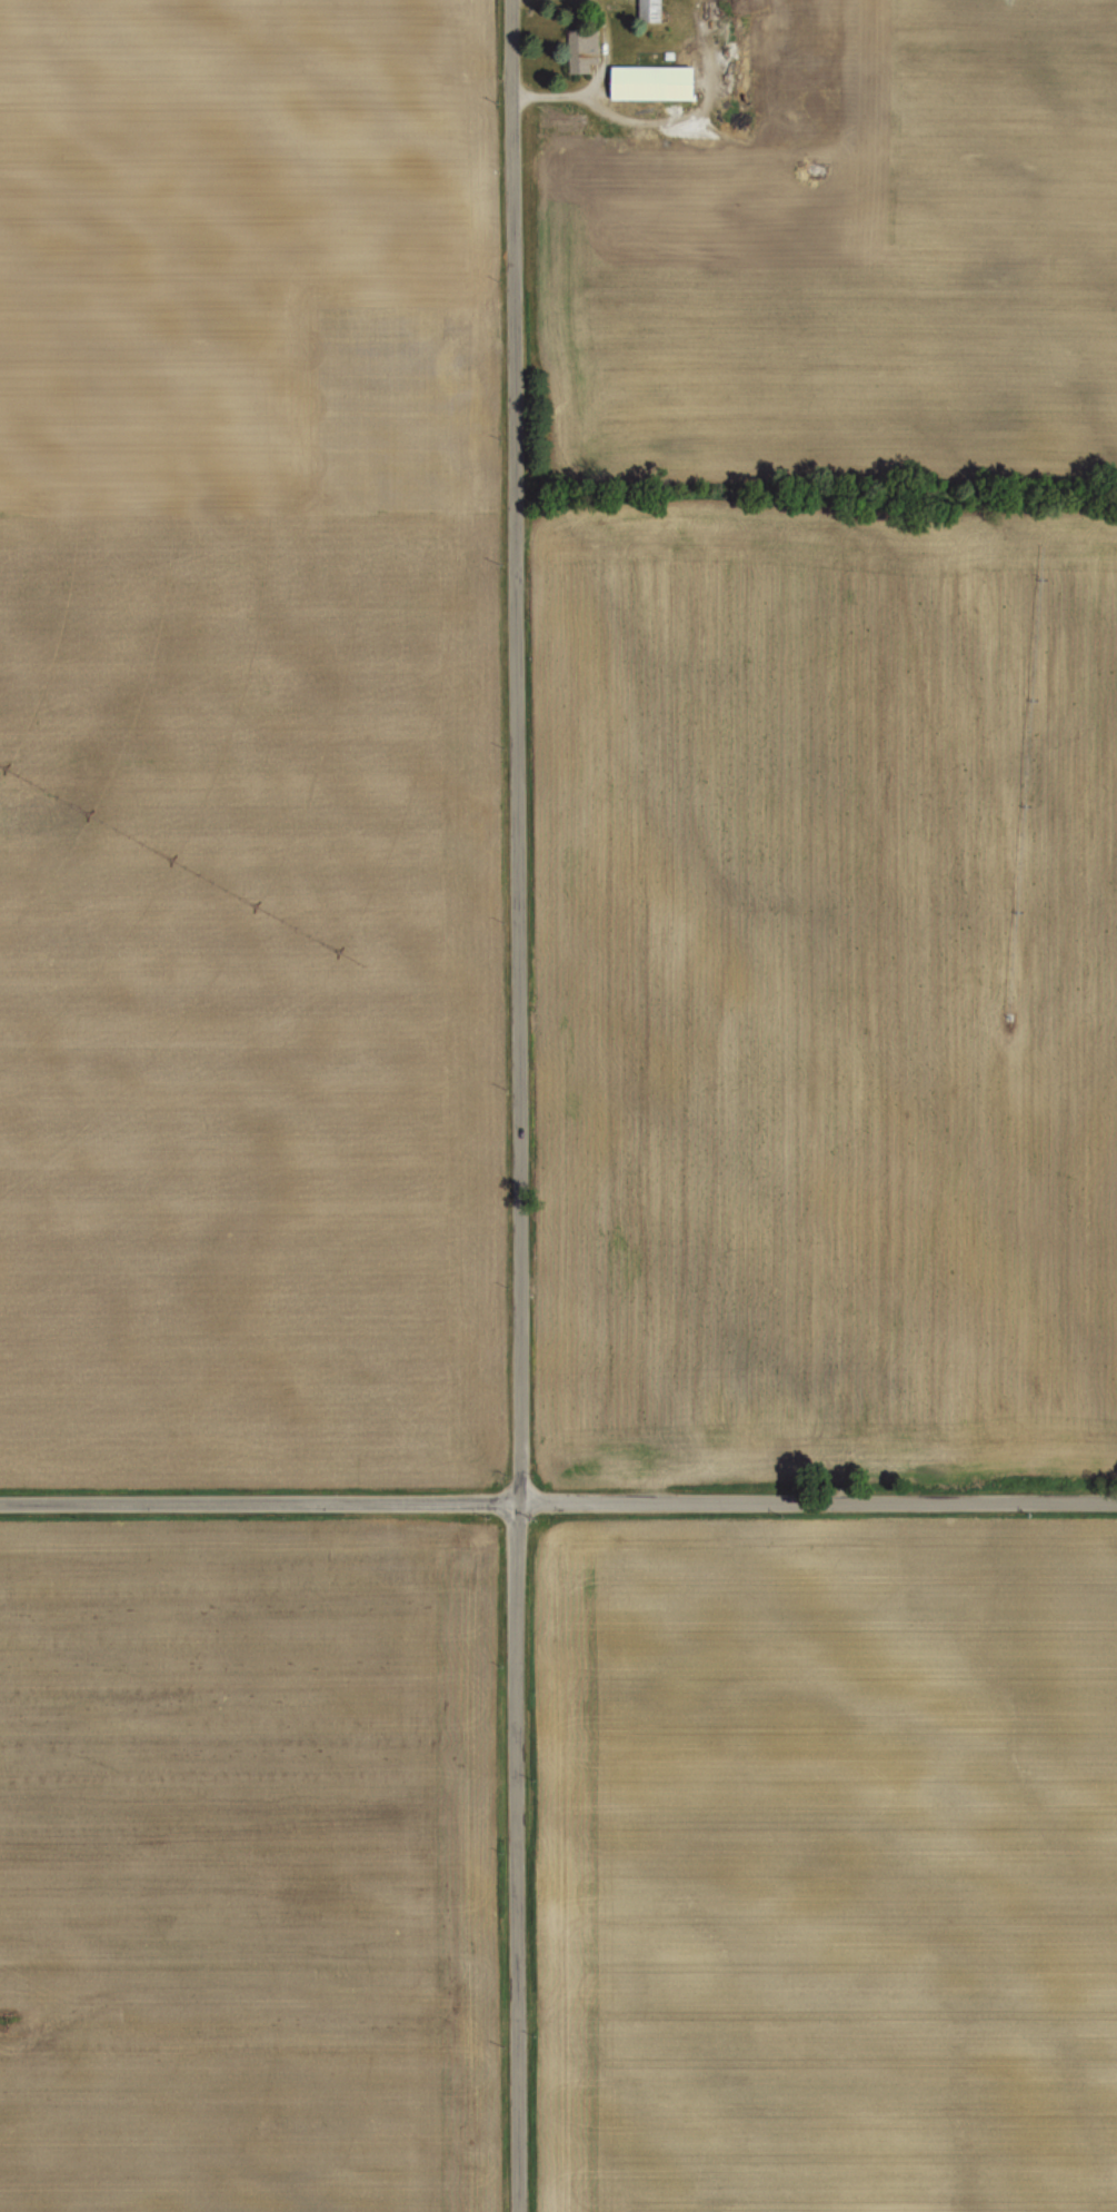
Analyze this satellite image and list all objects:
building: (654, 11)
building: (774, 20)
building: (577, 41)
building: (669, 54)
road: (592, 80)
building: (658, 82)
crop: (201, 219)
crop: (828, 989)
road: (517, 1105)
road: (558, 1498)

